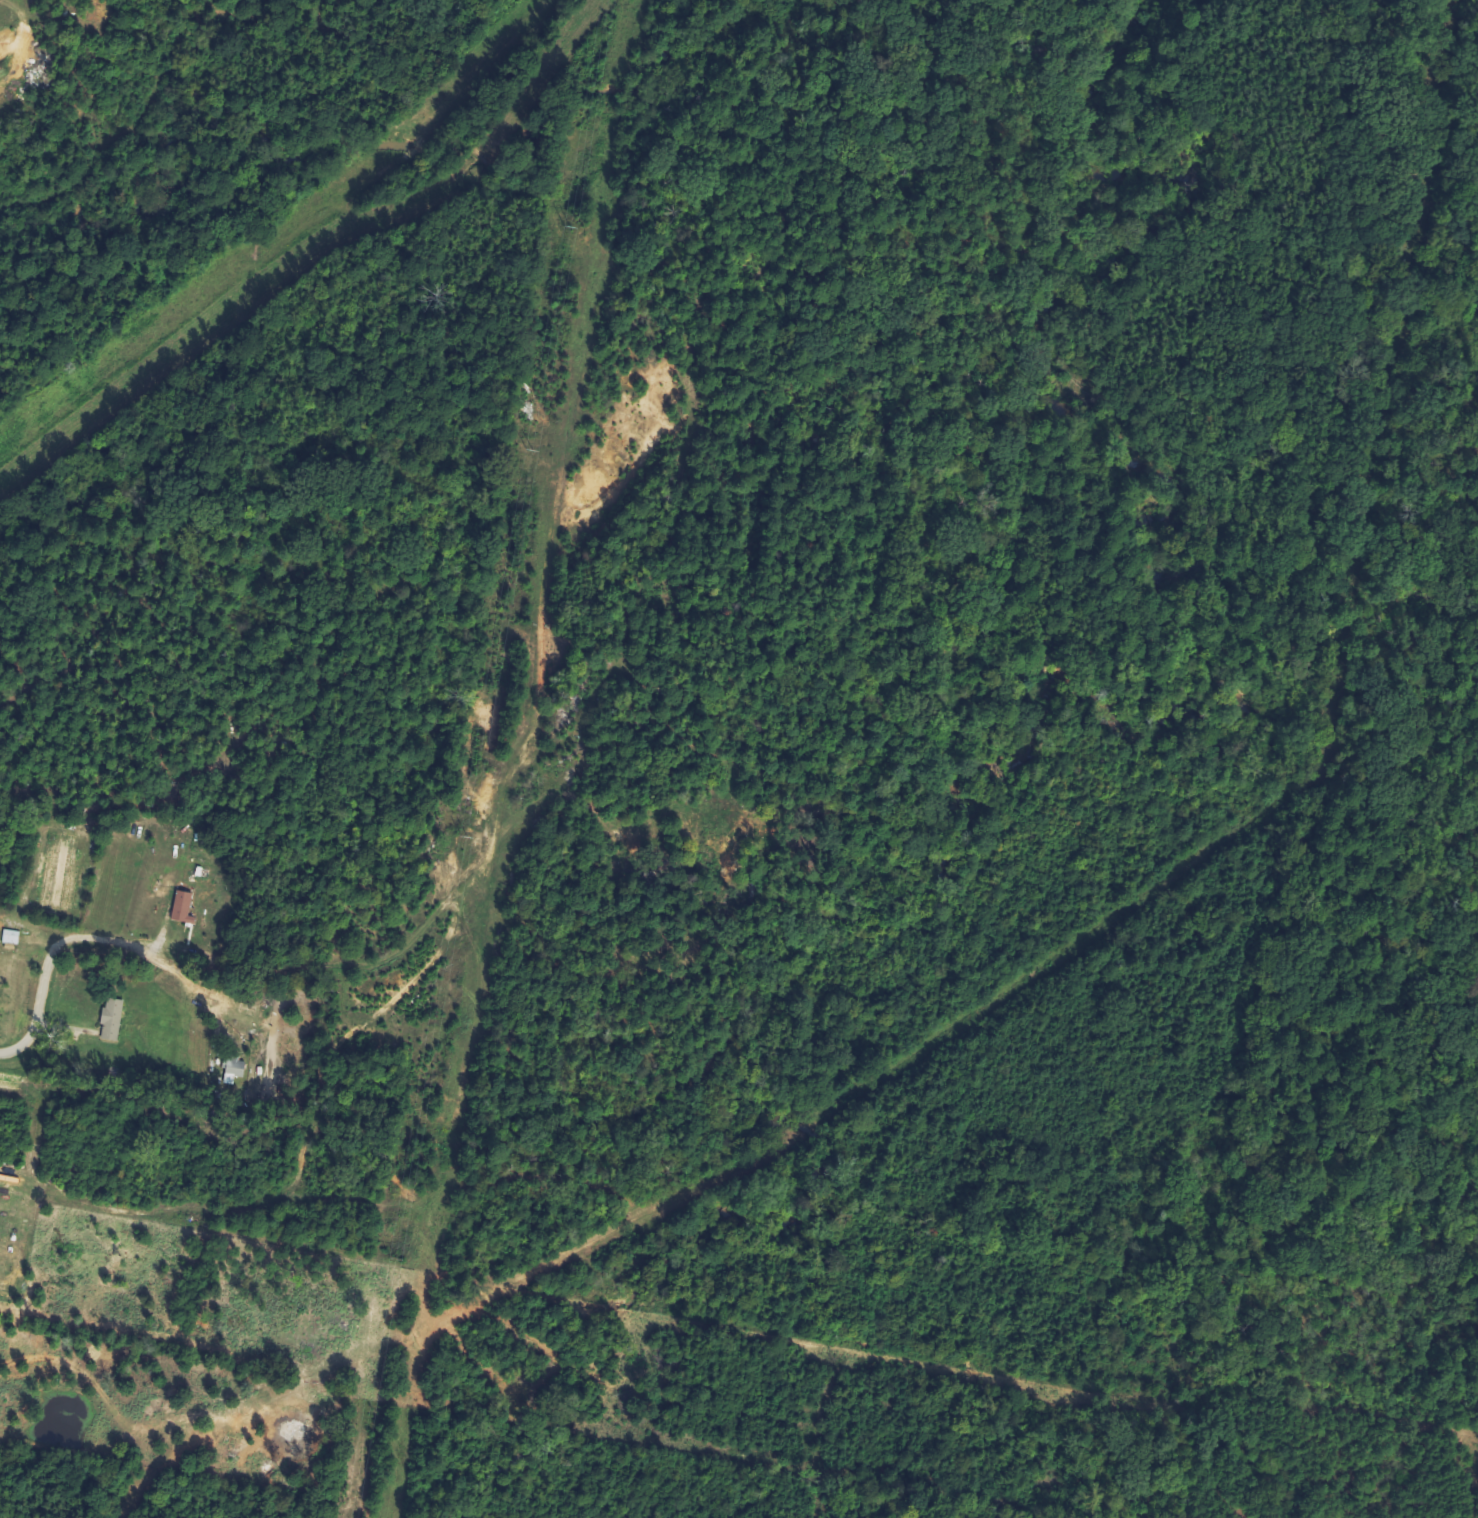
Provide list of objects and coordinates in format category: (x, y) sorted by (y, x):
road: (495, 810)
building: (185, 908)
road: (100, 938)
building: (114, 1020)

